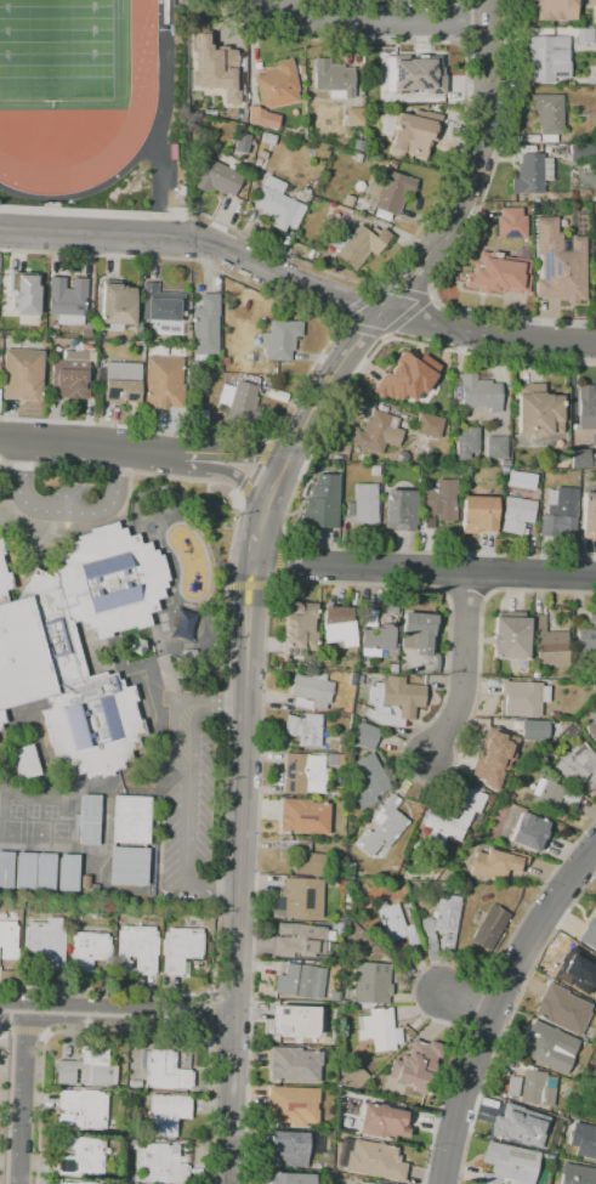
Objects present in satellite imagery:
building: (556, 10)
road: (368, 18)
building: (584, 35)
park: (62, 49)
park: (56, 50)
building: (214, 57)
building: (546, 60)
building: (411, 74)
building: (334, 79)
building: (278, 84)
road: (140, 97)
track: (140, 97)
building: (547, 114)
building: (356, 115)
building: (201, 117)
building: (257, 117)
road: (161, 130)
building: (414, 132)
building: (242, 143)
building: (581, 152)
building: (532, 175)
building: (220, 179)
road: (86, 192)
building: (391, 192)
building: (348, 200)
building: (277, 204)
building: (511, 222)
road: (461, 231)
building: (357, 244)
road: (432, 249)
building: (560, 262)
building: (498, 274)
road: (297, 277)
building: (21, 298)
building: (67, 300)
building: (160, 304)
building: (117, 305)
building: (205, 327)
building: (279, 339)
road: (323, 349)
building: (22, 374)
building: (69, 374)
building: (407, 376)
building: (163, 379)
building: (120, 381)
building: (478, 393)
building: (239, 398)
building: (586, 407)
building: (538, 410)
building: (427, 424)
building: (376, 431)
building: (466, 442)
building: (495, 448)
road: (140, 449)
building: (581, 459)
road: (194, 468)
building: (375, 470)
road: (297, 477)
road: (271, 482)
parking lot: (69, 491)
building: (322, 502)
building: (438, 502)
building: (365, 504)
building: (399, 509)
building: (560, 510)
road: (64, 512)
building: (478, 514)
building: (516, 514)
building: (589, 516)
road: (256, 520)
building: (0, 548)
road: (250, 548)
road: (421, 570)
building: (591, 621)
building: (336, 625)
building: (299, 628)
building: (418, 631)
building: (375, 636)
building: (510, 638)
building: (586, 641)
building: (549, 644)
building: (188, 650)
building: (40, 655)
road: (464, 667)
building: (310, 691)
building: (521, 697)
building: (393, 701)
road: (175, 709)
road: (225, 721)
building: (554, 725)
building: (0, 727)
building: (303, 729)
building: (534, 730)
building: (571, 730)
building: (591, 730)
road: (413, 733)
building: (365, 735)
building: (493, 757)
building: (23, 763)
building: (577, 766)
building: (297, 771)
building: (367, 780)
building: (550, 795)
road: (187, 800)
building: (456, 815)
building: (303, 816)
building: (89, 820)
building: (130, 820)
parking lot: (188, 820)
building: (382, 827)
building: (528, 831)
building: (303, 857)
building: (495, 863)
building: (127, 866)
building: (6, 869)
building: (23, 871)
building: (44, 872)
building: (67, 872)
road: (237, 872)
road: (255, 878)
building: (299, 899)
building: (395, 923)
building: (441, 924)
road: (561, 925)
building: (489, 928)
building: (7, 935)
building: (300, 939)
building: (589, 940)
building: (46, 941)
building: (180, 947)
building: (86, 948)
building: (136, 950)
building: (579, 969)
road: (470, 979)
building: (300, 981)
building: (370, 981)
road: (466, 997)
road: (495, 1003)
road: (117, 1008)
building: (562, 1009)
building: (294, 1020)
road: (98, 1029)
building: (378, 1029)
road: (228, 1039)
building: (545, 1044)
building: (293, 1064)
building: (414, 1064)
building: (86, 1069)
building: (163, 1070)
building: (353, 1078)
road: (483, 1080)
building: (512, 1086)
building: (538, 1088)
road: (17, 1094)
building: (291, 1105)
building: (81, 1110)
building: (165, 1114)
building: (382, 1122)
building: (524, 1122)
road: (433, 1138)
building: (583, 1139)
building: (286, 1149)
building: (80, 1156)
road: (245, 1157)
road: (210, 1158)
building: (374, 1160)
building: (507, 1163)
building: (160, 1165)
building: (577, 1174)
building: (288, 1178)
building: (78, 1183)
building: (371, 1183)

